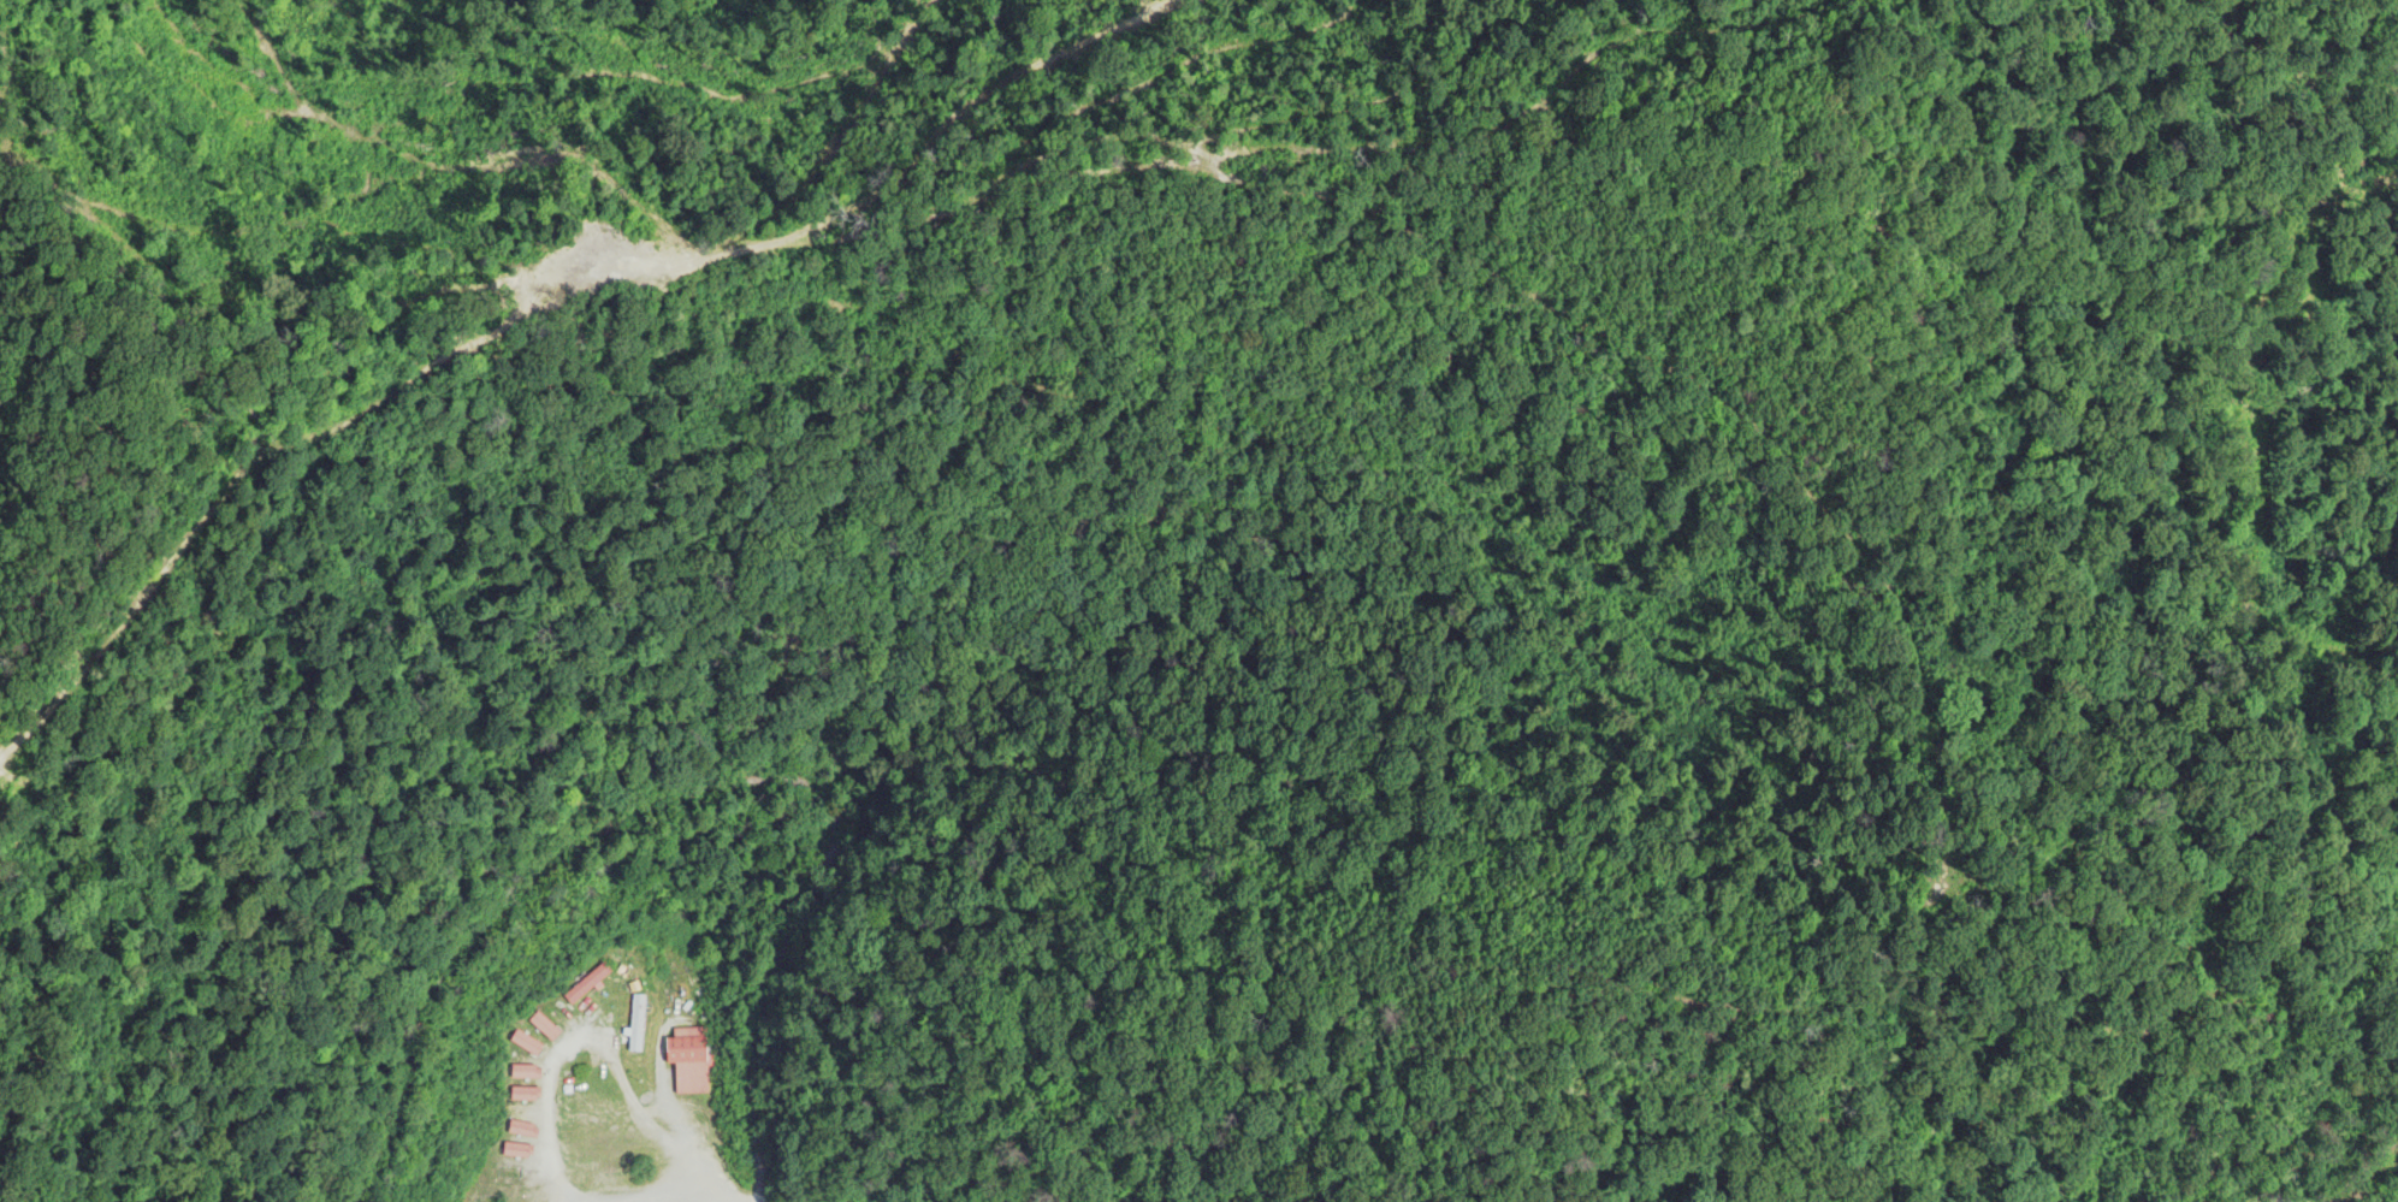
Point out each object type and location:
road: (906, 201)
building: (636, 1024)
building: (688, 1060)
building: (516, 1088)
road: (538, 1097)
road: (686, 1153)

